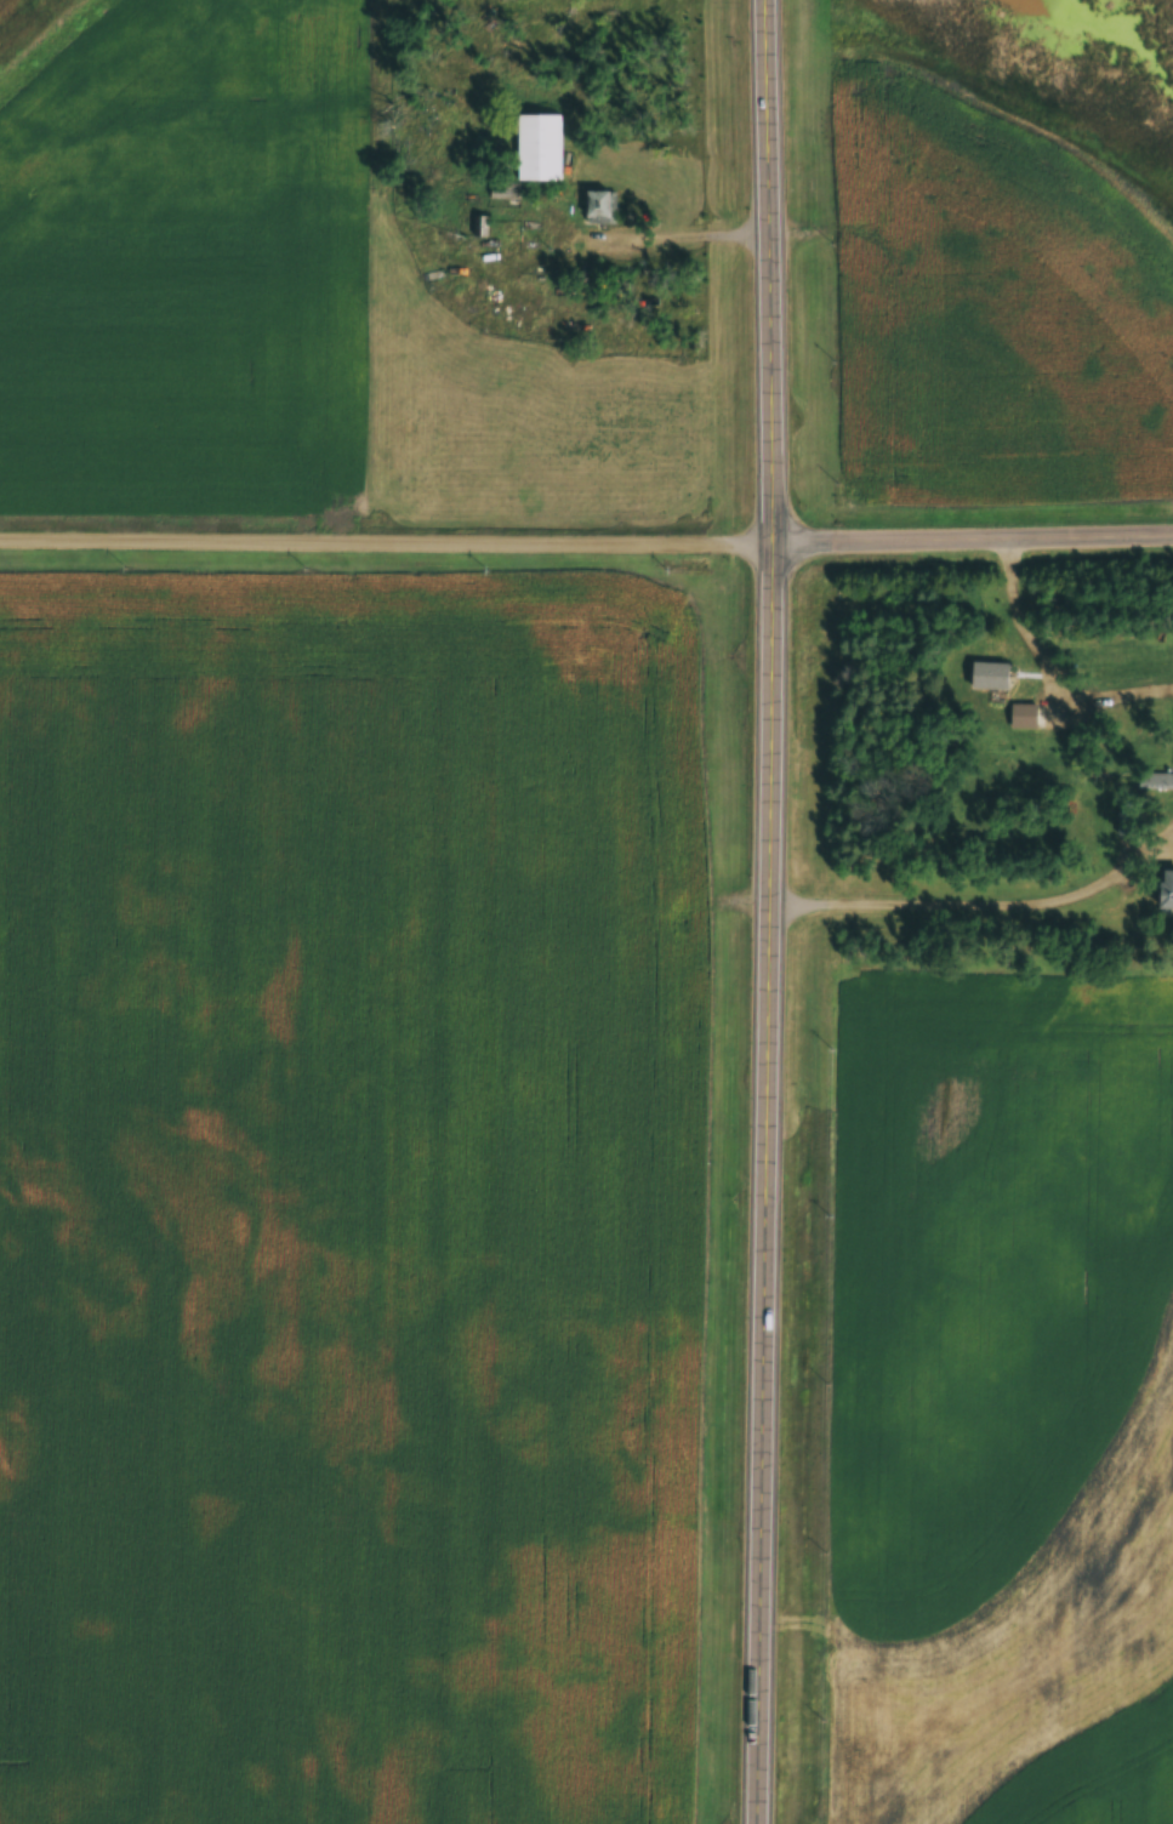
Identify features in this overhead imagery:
building: (536, 133)
building: (509, 189)
building: (604, 207)
crop: (186, 250)
road: (978, 537)
road: (392, 541)
road: (1049, 668)
building: (995, 676)
building: (1169, 780)
building: (1129, 823)
building: (1167, 890)
road: (981, 901)
road: (778, 911)
road: (945, 1030)

